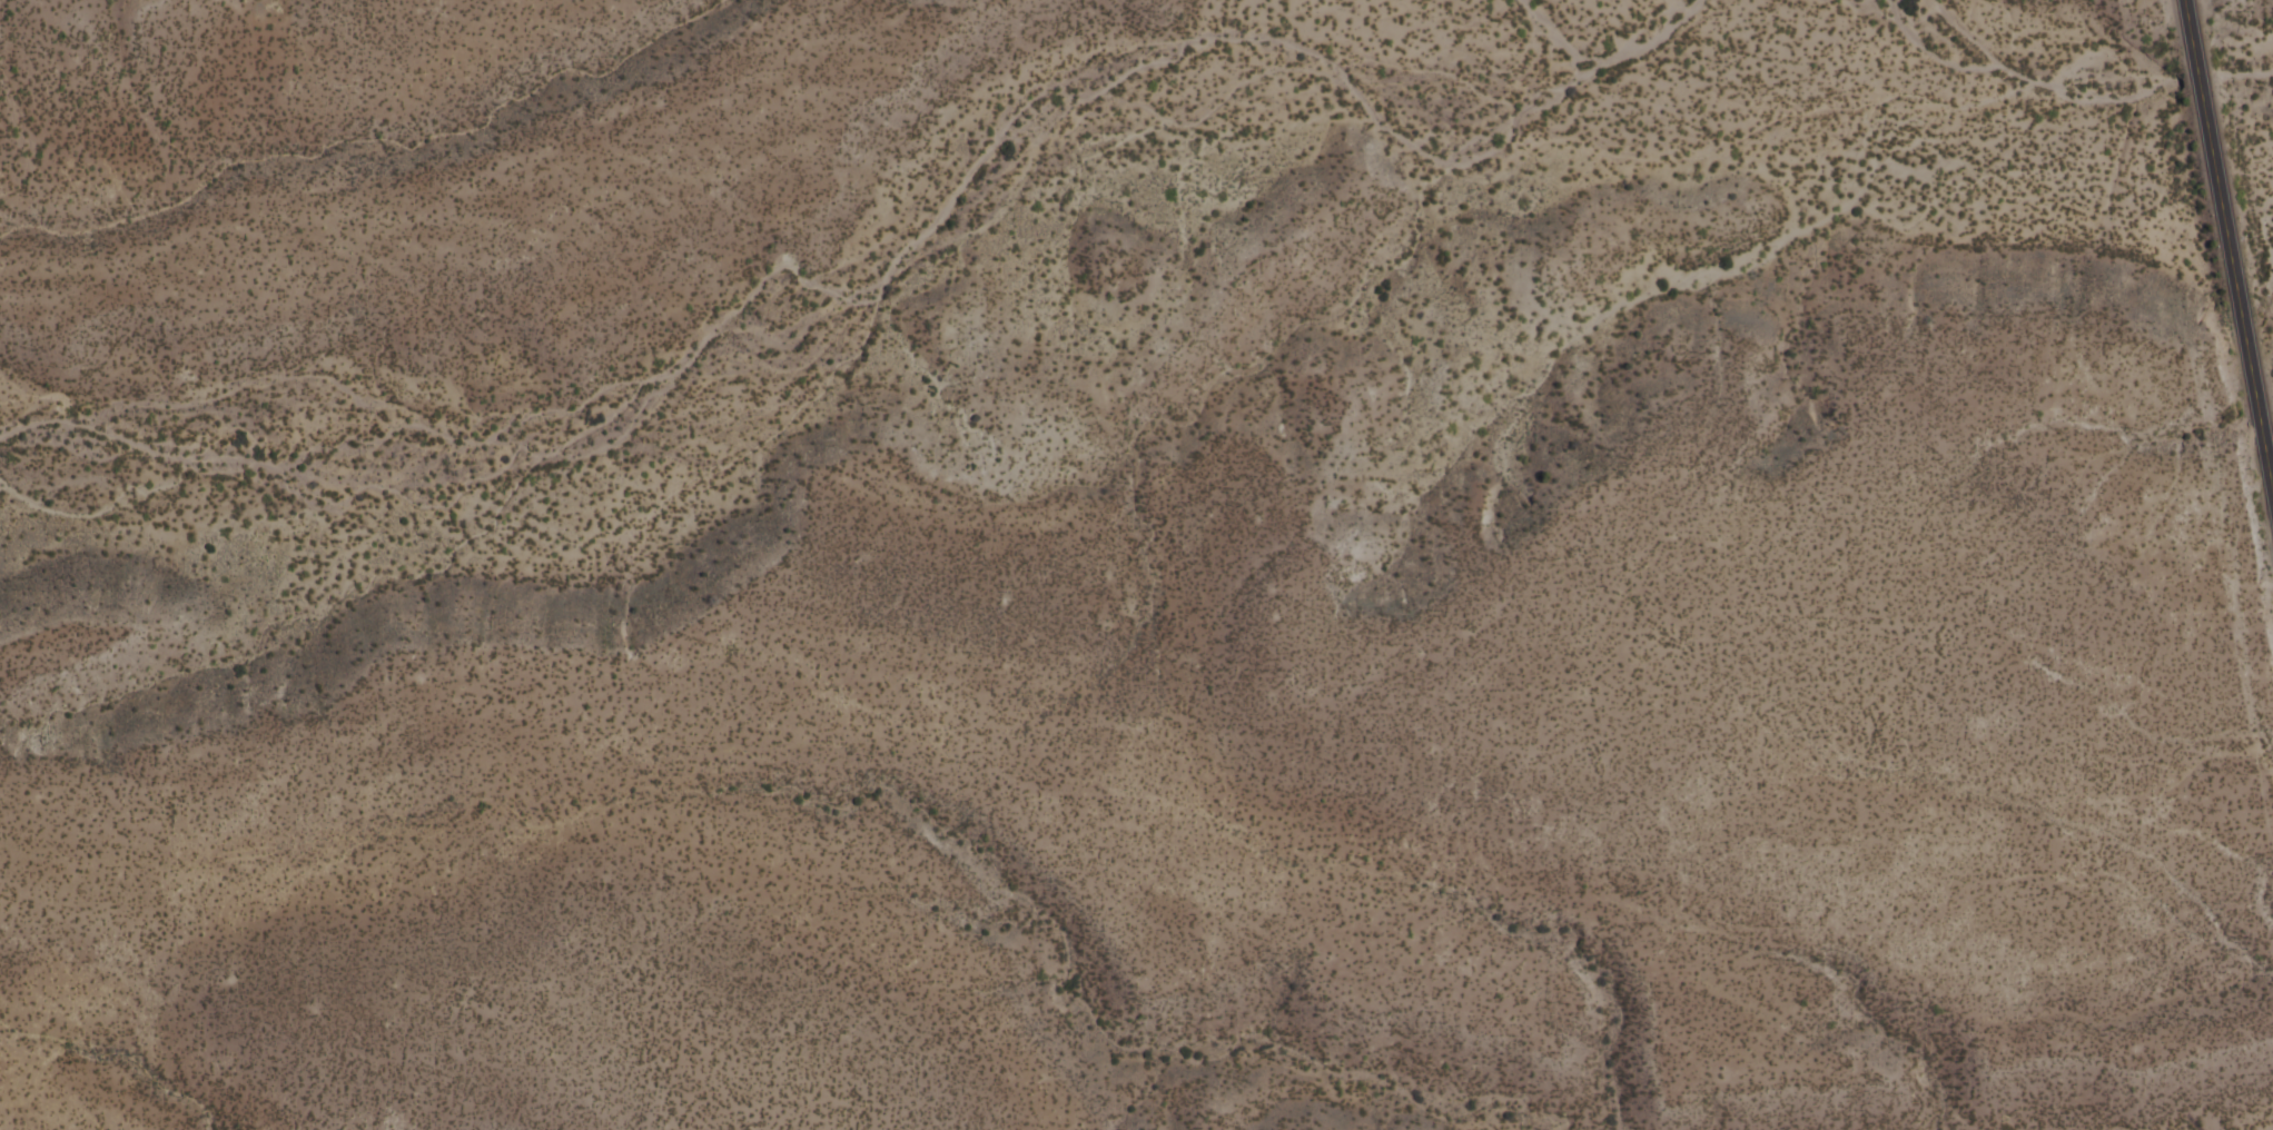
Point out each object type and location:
road: (2227, 247)

